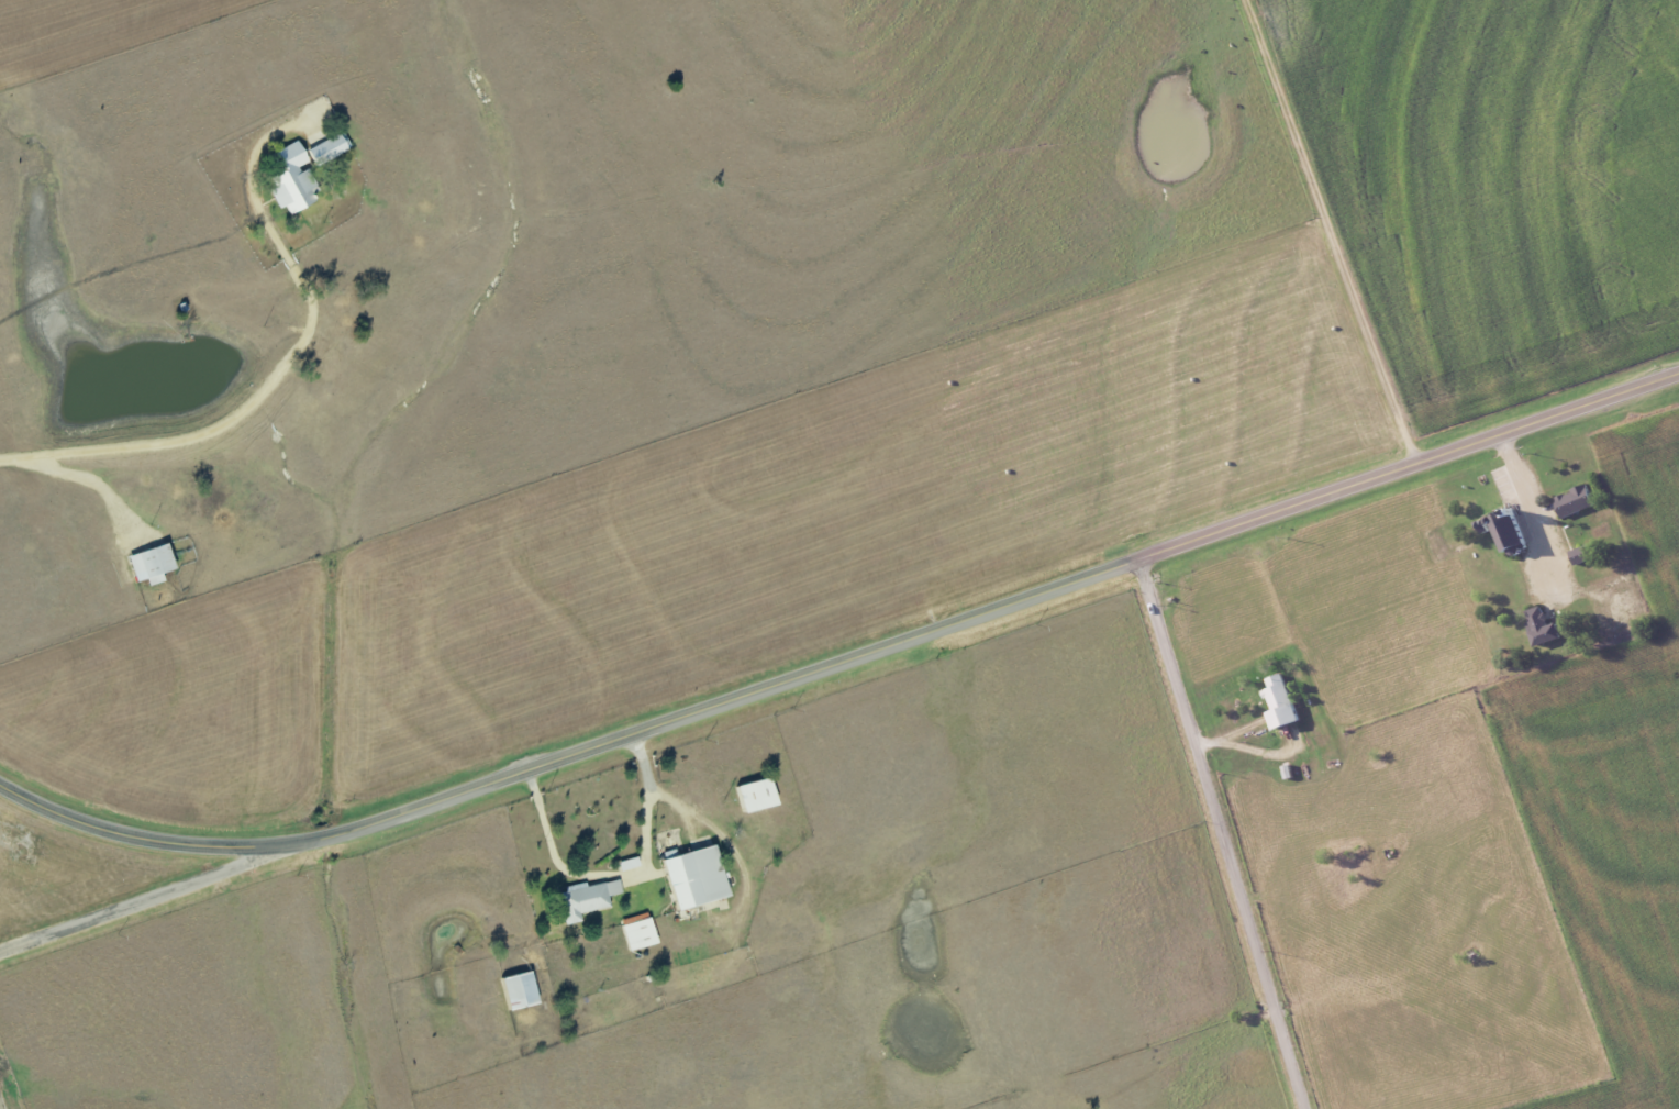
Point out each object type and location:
building: (330, 148)
building: (293, 179)
road: (1341, 230)
road: (245, 408)
road: (92, 483)
building: (1577, 501)
building: (153, 564)
building: (1543, 626)
road: (843, 662)
building: (758, 795)
road: (1221, 833)
building: (697, 877)
road: (154, 898)
building: (587, 898)
building: (640, 931)
building: (521, 990)
road: (0, 1107)

